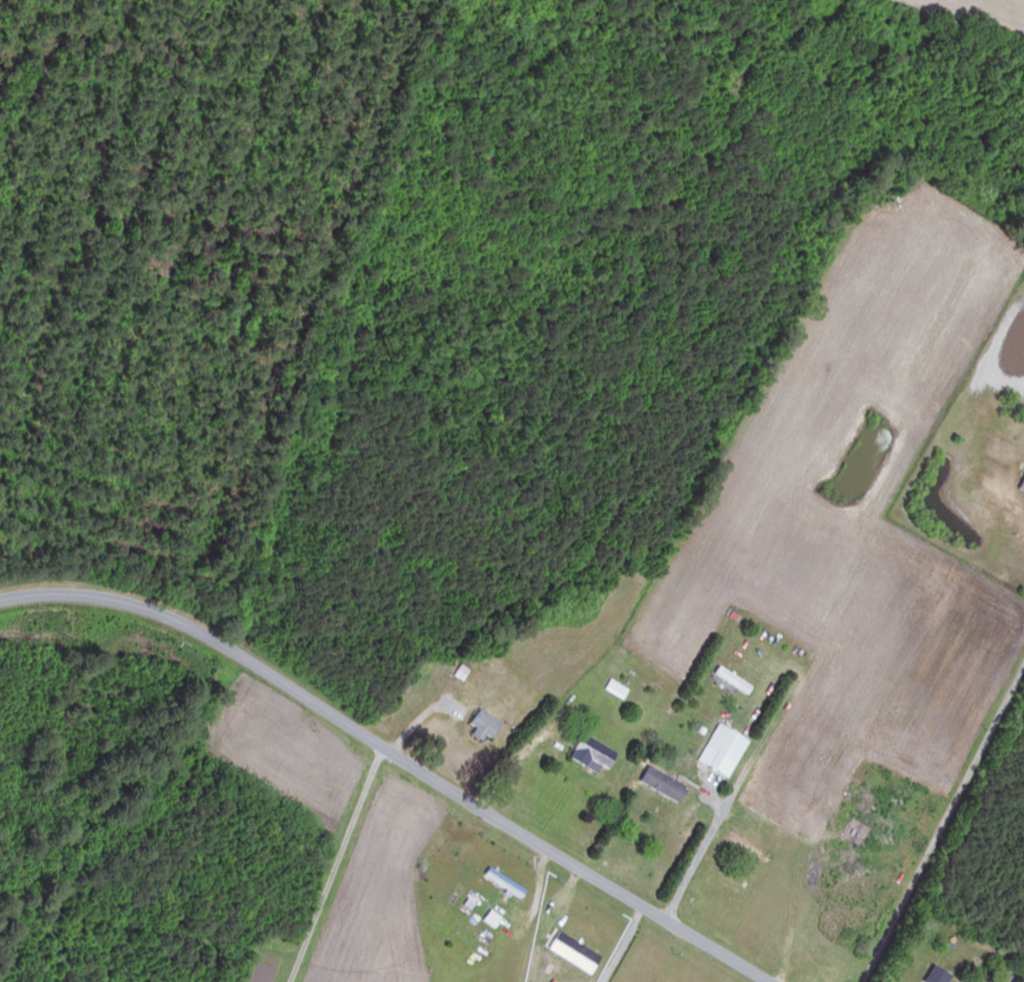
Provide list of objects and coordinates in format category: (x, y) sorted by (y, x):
building: (417, 671)
building: (734, 683)
building: (480, 725)
building: (718, 751)
building: (588, 754)
road: (393, 757)
road: (508, 764)
building: (659, 784)
road: (944, 822)
building: (746, 849)
road: (696, 857)
road: (337, 866)
building: (835, 929)
building: (570, 952)

